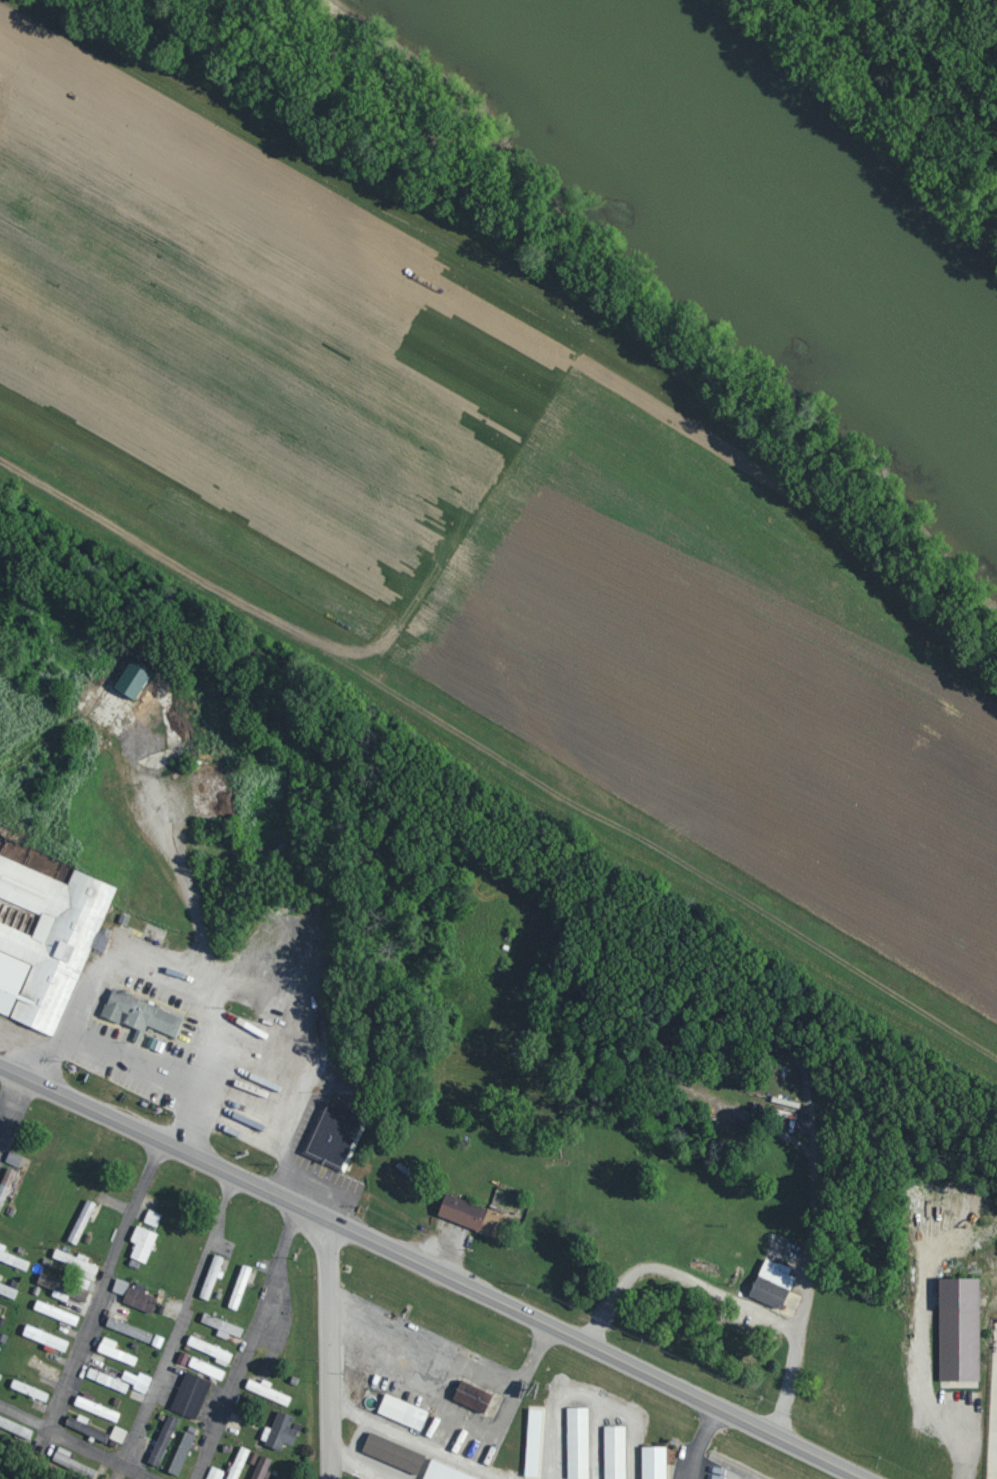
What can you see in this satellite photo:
road: (886, 108)
river: (793, 204)
building: (133, 679)
building: (10, 846)
building: (48, 941)
road: (183, 973)
building: (140, 1015)
road: (9, 1086)
building: (334, 1135)
building: (13, 1159)
building: (6, 1184)
building: (471, 1215)
building: (152, 1218)
building: (81, 1222)
building: (142, 1243)
building: (12, 1258)
road: (439, 1263)
road: (96, 1276)
building: (211, 1277)
building: (772, 1284)
building: (120, 1286)
building: (239, 1287)
building: (8, 1291)
building: (82, 1295)
road: (723, 1296)
building: (140, 1297)
building: (0, 1308)
building: (56, 1313)
road: (174, 1313)
building: (222, 1326)
building: (129, 1329)
building: (959, 1330)
road: (240, 1337)
building: (45, 1338)
road: (329, 1344)
building: (210, 1350)
building: (114, 1351)
road: (455, 1360)
building: (206, 1368)
building: (113, 1372)
building: (107, 1380)
building: (137, 1381)
building: (29, 1390)
building: (267, 1391)
building: (190, 1395)
building: (473, 1397)
building: (96, 1407)
building: (403, 1412)
building: (86, 1427)
building: (15, 1428)
building: (281, 1432)
building: (118, 1434)
road: (701, 1439)
building: (163, 1440)
road: (357, 1441)
road: (417, 1441)
road: (77, 1442)
building: (533, 1443)
building: (577, 1443)
building: (182, 1451)
building: (614, 1452)
building: (393, 1453)
building: (653, 1462)
building: (72, 1463)
building: (238, 1463)
road: (352, 1466)
building: (260, 1467)
building: (443, 1472)
building: (215, 1473)
building: (281, 1476)

